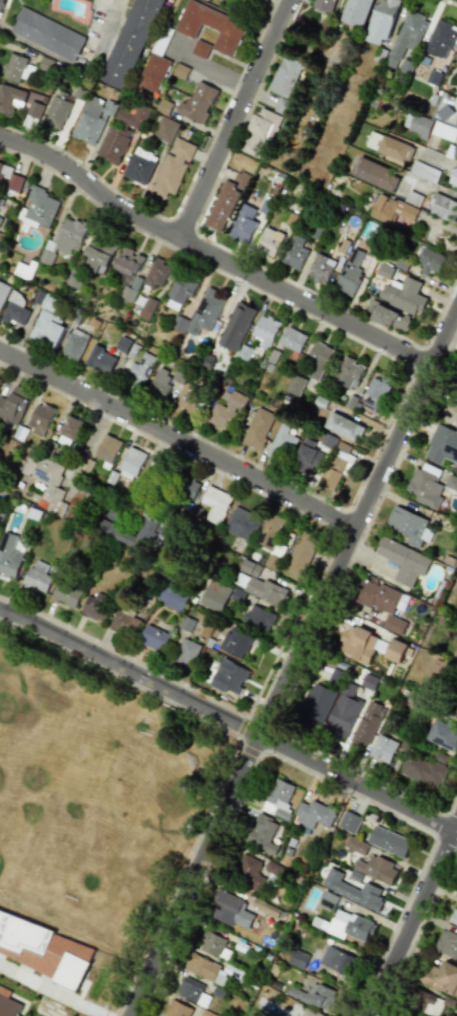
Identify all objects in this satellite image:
building: (325, 5)
building: (357, 12)
building: (382, 21)
building: (211, 26)
building: (48, 34)
building: (407, 37)
building: (440, 39)
building: (131, 43)
building: (200, 49)
building: (456, 55)
road: (74, 63)
building: (154, 67)
building: (14, 68)
road: (209, 69)
building: (285, 77)
building: (18, 102)
building: (198, 103)
building: (282, 106)
building: (58, 109)
building: (132, 118)
road: (234, 118)
building: (93, 119)
building: (456, 124)
building: (417, 125)
building: (165, 129)
building: (444, 131)
building: (259, 133)
building: (113, 144)
building: (389, 147)
building: (455, 152)
road: (440, 159)
building: (140, 166)
building: (173, 167)
building: (424, 171)
building: (375, 175)
building: (453, 178)
building: (10, 179)
road: (434, 187)
building: (413, 199)
building: (1, 201)
building: (225, 203)
building: (443, 208)
building: (38, 209)
building: (393, 212)
building: (0, 219)
building: (243, 224)
building: (269, 241)
building: (295, 253)
building: (99, 254)
road: (213, 254)
building: (431, 261)
building: (127, 264)
building: (321, 268)
building: (157, 273)
building: (350, 273)
building: (75, 278)
building: (3, 292)
building: (180, 292)
building: (128, 293)
building: (404, 295)
building: (147, 308)
building: (15, 309)
building: (206, 311)
building: (387, 316)
building: (179, 324)
building: (236, 326)
building: (47, 328)
building: (266, 331)
building: (294, 339)
building: (74, 345)
building: (124, 345)
building: (100, 360)
building: (317, 360)
building: (139, 373)
building: (349, 373)
building: (161, 382)
building: (296, 385)
building: (454, 391)
building: (376, 392)
building: (188, 400)
building: (14, 404)
building: (227, 411)
building: (449, 414)
building: (40, 417)
building: (344, 426)
building: (258, 428)
building: (68, 431)
road: (178, 439)
building: (328, 441)
building: (281, 443)
building: (442, 445)
building: (108, 449)
building: (309, 455)
building: (131, 463)
building: (156, 466)
building: (337, 468)
building: (44, 479)
building: (451, 481)
building: (426, 486)
building: (188, 487)
building: (216, 504)
building: (242, 523)
building: (410, 526)
building: (135, 532)
building: (272, 533)
building: (302, 554)
building: (9, 556)
building: (404, 561)
building: (250, 568)
building: (38, 577)
building: (261, 589)
building: (66, 595)
building: (215, 595)
building: (173, 596)
building: (382, 602)
building: (96, 607)
building: (259, 618)
building: (125, 623)
building: (154, 638)
building: (239, 642)
building: (360, 644)
building: (396, 650)
building: (187, 653)
road: (290, 663)
building: (229, 677)
building: (334, 677)
building: (369, 682)
building: (318, 702)
building: (416, 702)
building: (456, 711)
building: (344, 712)
road: (227, 723)
building: (368, 723)
building: (444, 735)
building: (384, 748)
building: (426, 769)
building: (279, 800)
building: (314, 814)
building: (350, 822)
building: (263, 833)
building: (389, 841)
building: (356, 845)
building: (271, 867)
building: (378, 869)
building: (250, 872)
building: (353, 890)
building: (329, 900)
building: (265, 907)
building: (232, 909)
road: (411, 917)
building: (454, 918)
building: (212, 943)
building: (447, 944)
building: (43, 949)
building: (299, 959)
building: (338, 960)
building: (206, 969)
building: (442, 978)
building: (193, 991)
building: (316, 996)
building: (9, 1001)
building: (428, 1003)
building: (180, 1010)
building: (310, 1013)

